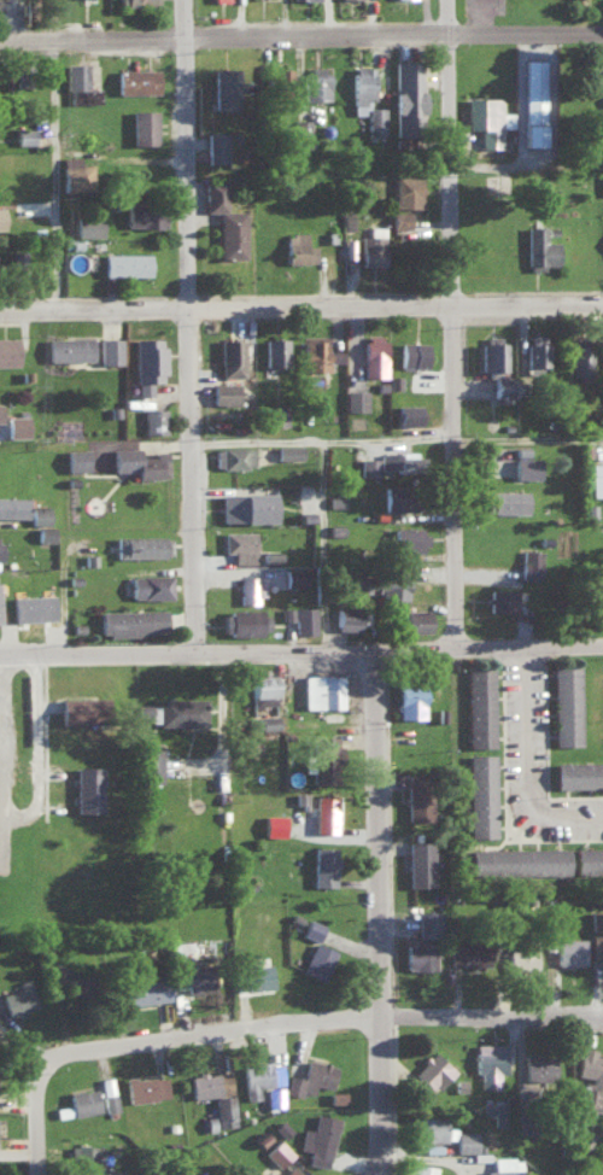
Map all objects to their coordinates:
building: (224, 0)
building: (137, 1)
road: (301, 42)
building: (75, 75)
building: (136, 80)
building: (315, 83)
building: (226, 87)
building: (361, 89)
building: (86, 95)
building: (408, 97)
building: (533, 101)
building: (602, 106)
building: (487, 118)
building: (375, 119)
building: (142, 127)
building: (301, 133)
building: (24, 135)
building: (216, 146)
road: (70, 154)
road: (134, 169)
road: (532, 171)
building: (75, 173)
building: (406, 189)
building: (538, 189)
building: (145, 212)
building: (1, 217)
building: (399, 217)
building: (224, 220)
building: (88, 224)
building: (539, 245)
building: (298, 247)
building: (371, 249)
building: (125, 262)
road: (300, 306)
road: (464, 321)
road: (199, 325)
building: (69, 346)
building: (8, 349)
building: (110, 349)
building: (275, 349)
building: (535, 349)
building: (315, 352)
building: (412, 352)
building: (374, 353)
building: (230, 355)
building: (492, 355)
building: (581, 355)
building: (147, 362)
building: (502, 384)
building: (224, 391)
building: (355, 398)
building: (0, 411)
building: (276, 413)
building: (408, 413)
building: (154, 419)
building: (16, 423)
road: (534, 444)
road: (333, 446)
road: (150, 450)
building: (288, 450)
building: (233, 455)
building: (76, 457)
building: (397, 458)
building: (140, 461)
building: (525, 462)
building: (368, 463)
building: (596, 478)
building: (399, 496)
building: (509, 499)
building: (13, 503)
building: (245, 504)
building: (39, 514)
building: (43, 532)
building: (409, 538)
building: (142, 544)
building: (239, 544)
road: (338, 546)
building: (529, 562)
building: (293, 575)
building: (150, 584)
building: (380, 584)
building: (250, 587)
building: (502, 598)
building: (30, 604)
building: (303, 618)
building: (346, 618)
building: (416, 619)
building: (130, 620)
building: (244, 620)
road: (300, 647)
building: (260, 688)
building: (322, 689)
building: (410, 698)
building: (566, 701)
building: (479, 702)
building: (81, 708)
building: (175, 709)
road: (58, 713)
building: (265, 720)
road: (51, 750)
building: (323, 756)
building: (151, 762)
road: (523, 762)
road: (7, 764)
building: (579, 772)
building: (87, 787)
building: (481, 794)
building: (416, 796)
building: (324, 811)
building: (273, 823)
building: (589, 859)
building: (519, 860)
building: (420, 861)
building: (323, 864)
road: (376, 911)
building: (429, 922)
building: (312, 928)
building: (596, 934)
building: (569, 949)
building: (468, 953)
building: (420, 954)
building: (522, 957)
building: (318, 959)
building: (252, 976)
building: (68, 981)
building: (145, 989)
building: (19, 996)
road: (273, 1028)
building: (488, 1062)
building: (538, 1070)
building: (431, 1071)
building: (259, 1076)
building: (311, 1076)
building: (590, 1077)
building: (146, 1087)
building: (107, 1093)
building: (215, 1093)
building: (274, 1095)
building: (83, 1100)
building: (494, 1110)
building: (281, 1127)
building: (432, 1128)
building: (318, 1138)
building: (466, 1140)
building: (279, 1151)
building: (82, 1157)
building: (504, 1165)
building: (420, 1168)
building: (289, 1171)

